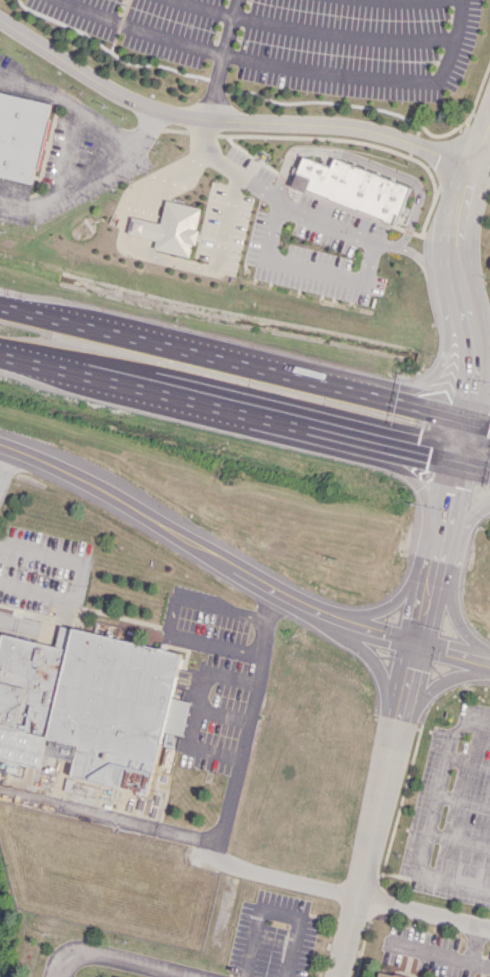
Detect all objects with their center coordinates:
road: (144, 30)
road: (314, 31)
road: (221, 58)
road: (369, 79)
road: (69, 104)
road: (226, 120)
building: (21, 134)
road: (205, 134)
road: (68, 151)
road: (87, 173)
road: (164, 179)
building: (350, 187)
road: (226, 202)
road: (135, 226)
building: (170, 228)
road: (459, 236)
road: (165, 258)
road: (422, 261)
road: (367, 263)
road: (481, 353)
road: (472, 358)
road: (231, 362)
road: (432, 371)
road: (481, 372)
road: (467, 390)
road: (190, 409)
traffic signals: (463, 419)
road: (476, 422)
road: (458, 446)
road: (4, 455)
road: (417, 464)
traffic signals: (454, 473)
road: (472, 477)
road: (419, 488)
road: (464, 519)
road: (443, 521)
road: (168, 525)
road: (78, 575)
road: (385, 604)
road: (423, 611)
road: (454, 618)
road: (173, 619)
road: (371, 636)
traffic signals: (413, 651)
road: (451, 657)
road: (371, 663)
road: (437, 679)
building: (90, 703)
road: (196, 707)
building: (66, 751)
road: (229, 796)
road: (77, 806)
road: (373, 813)
road: (427, 819)
road: (186, 834)
road: (422, 913)
road: (443, 956)
road: (120, 961)
road: (478, 965)
building: (381, 975)

